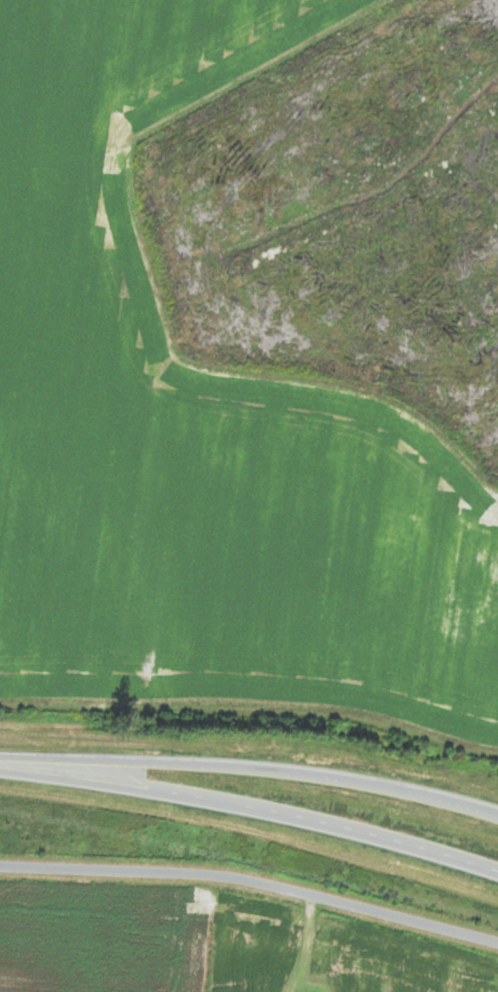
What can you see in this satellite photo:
road: (8, 768)
road: (259, 771)
road: (259, 813)
road: (252, 880)

